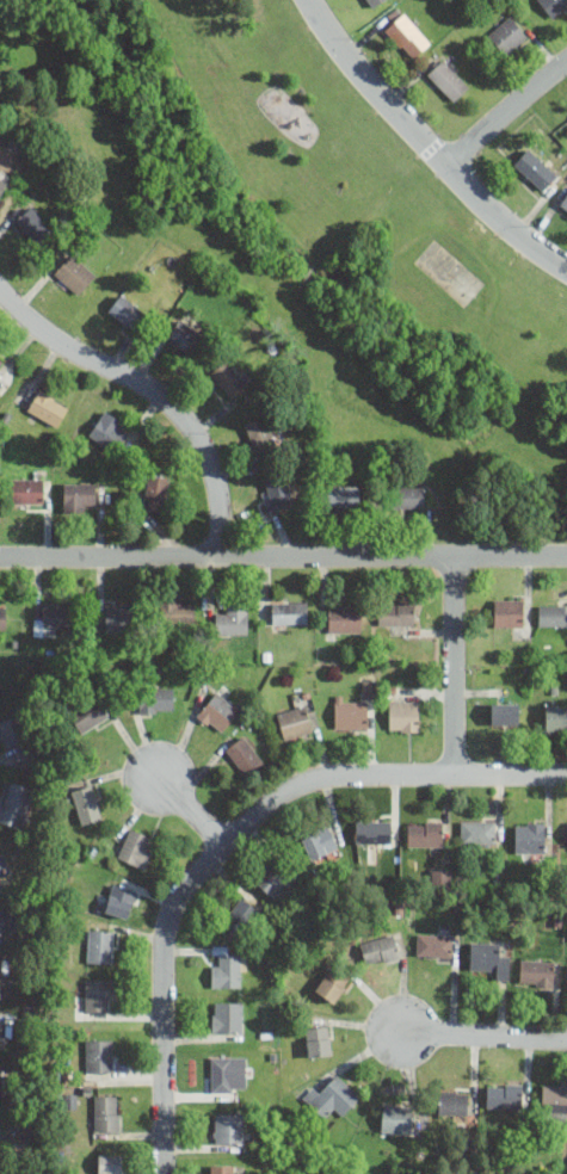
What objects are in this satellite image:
building: (372, 2)
building: (553, 6)
building: (407, 35)
building: (507, 35)
building: (448, 79)
road: (504, 112)
building: (566, 119)
building: (566, 122)
road: (235, 135)
road: (426, 144)
building: (535, 168)
building: (2, 185)
building: (563, 203)
building: (33, 225)
park: (303, 229)
park: (449, 272)
building: (74, 273)
road: (294, 291)
building: (127, 310)
building: (186, 336)
building: (0, 360)
building: (229, 376)
road: (150, 394)
road: (399, 403)
building: (48, 407)
building: (110, 430)
building: (261, 434)
building: (27, 489)
building: (278, 489)
building: (155, 492)
building: (78, 495)
building: (343, 495)
building: (408, 496)
road: (283, 556)
building: (177, 611)
building: (289, 612)
building: (396, 612)
building: (509, 612)
building: (55, 614)
building: (553, 614)
building: (2, 617)
building: (118, 617)
building: (345, 618)
building: (232, 619)
road: (451, 665)
building: (156, 699)
building: (217, 712)
building: (350, 712)
building: (505, 712)
building: (88, 713)
building: (403, 715)
building: (555, 716)
building: (294, 722)
building: (11, 731)
building: (245, 755)
building: (14, 802)
building: (85, 804)
road: (191, 810)
building: (374, 832)
building: (477, 832)
building: (425, 833)
building: (530, 836)
road: (230, 838)
building: (319, 842)
building: (135, 848)
building: (2, 866)
building: (271, 879)
building: (443, 879)
building: (119, 900)
building: (240, 917)
building: (6, 920)
building: (435, 945)
building: (100, 946)
building: (221, 949)
building: (380, 949)
building: (487, 958)
building: (4, 971)
building: (227, 971)
building: (537, 971)
building: (333, 982)
building: (99, 993)
building: (227, 1015)
building: (4, 1033)
road: (482, 1036)
building: (319, 1040)
building: (99, 1055)
building: (229, 1074)
building: (1, 1079)
building: (332, 1095)
building: (504, 1095)
building: (452, 1101)
building: (554, 1104)
building: (106, 1111)
building: (396, 1118)
building: (0, 1127)
building: (229, 1127)
building: (111, 1163)
building: (222, 1168)

